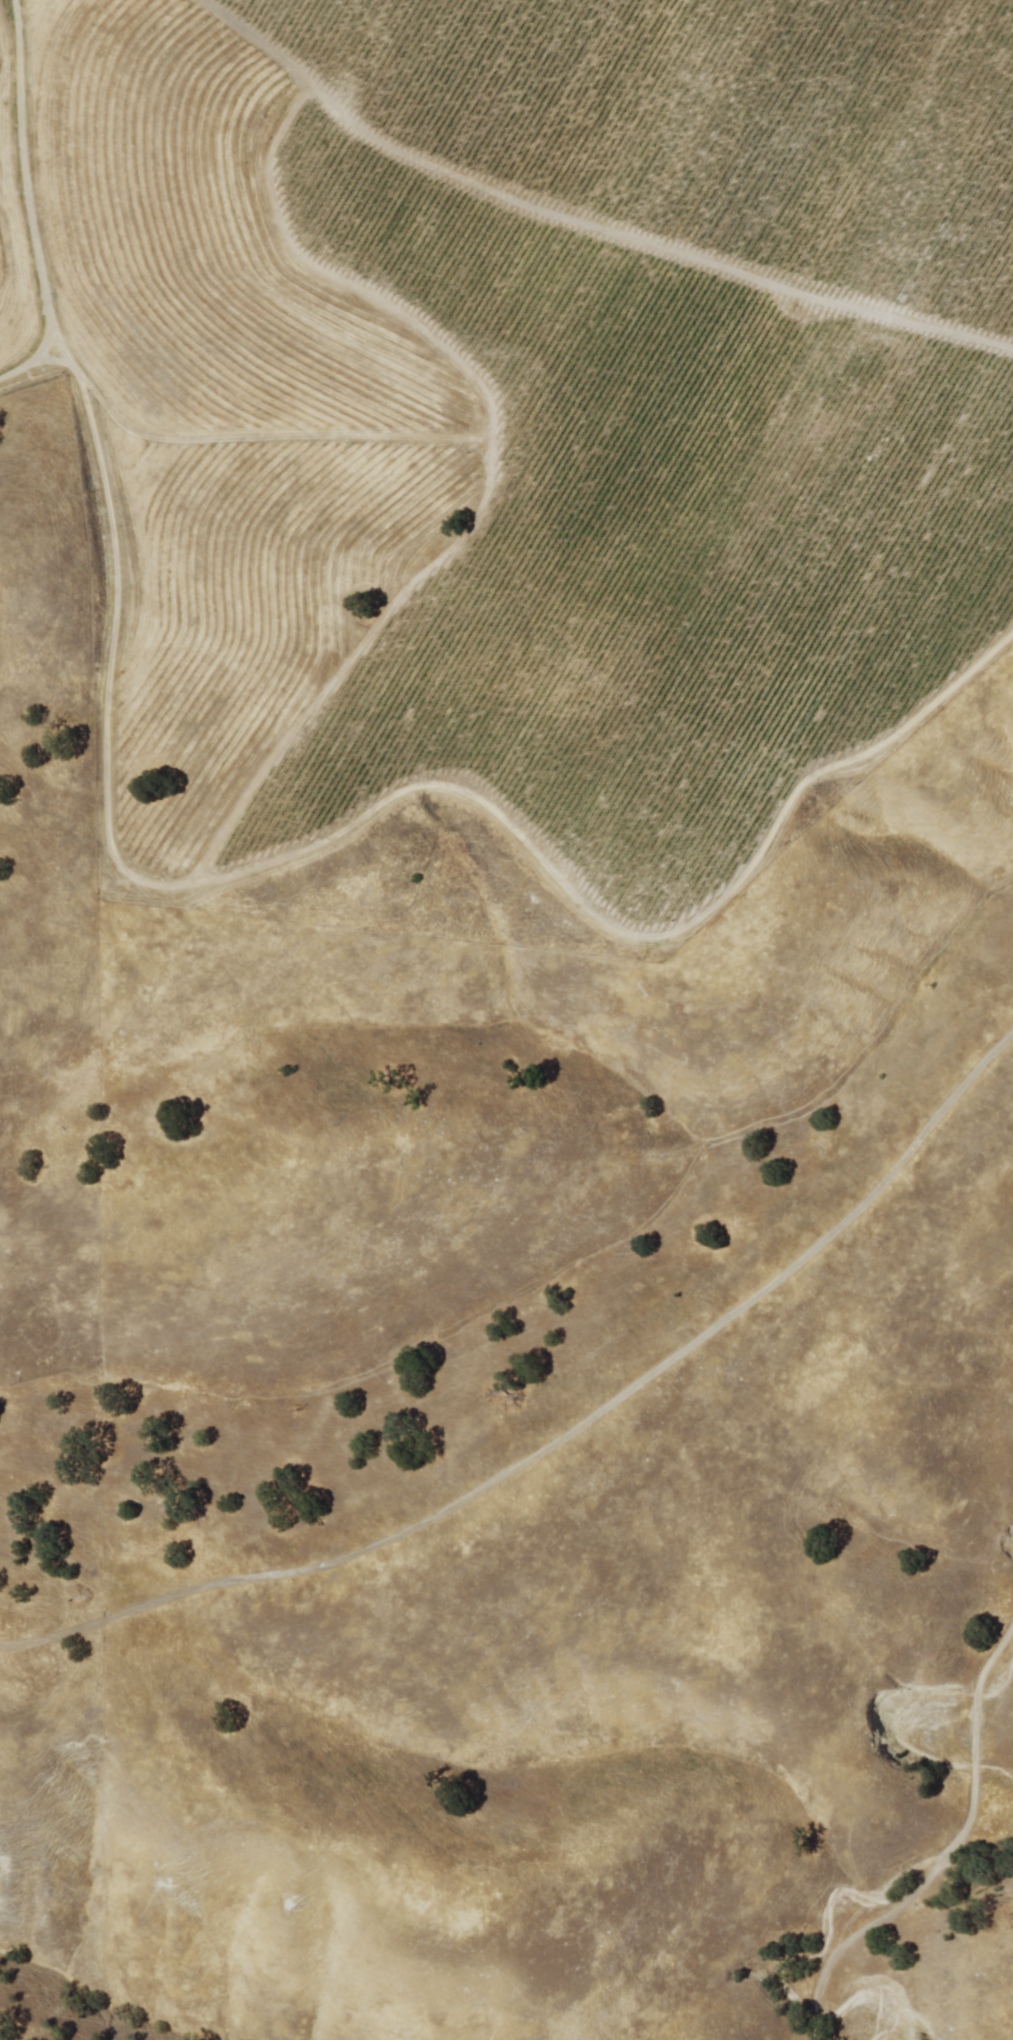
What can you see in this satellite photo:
road: (564, 1441)
road: (946, 1852)

